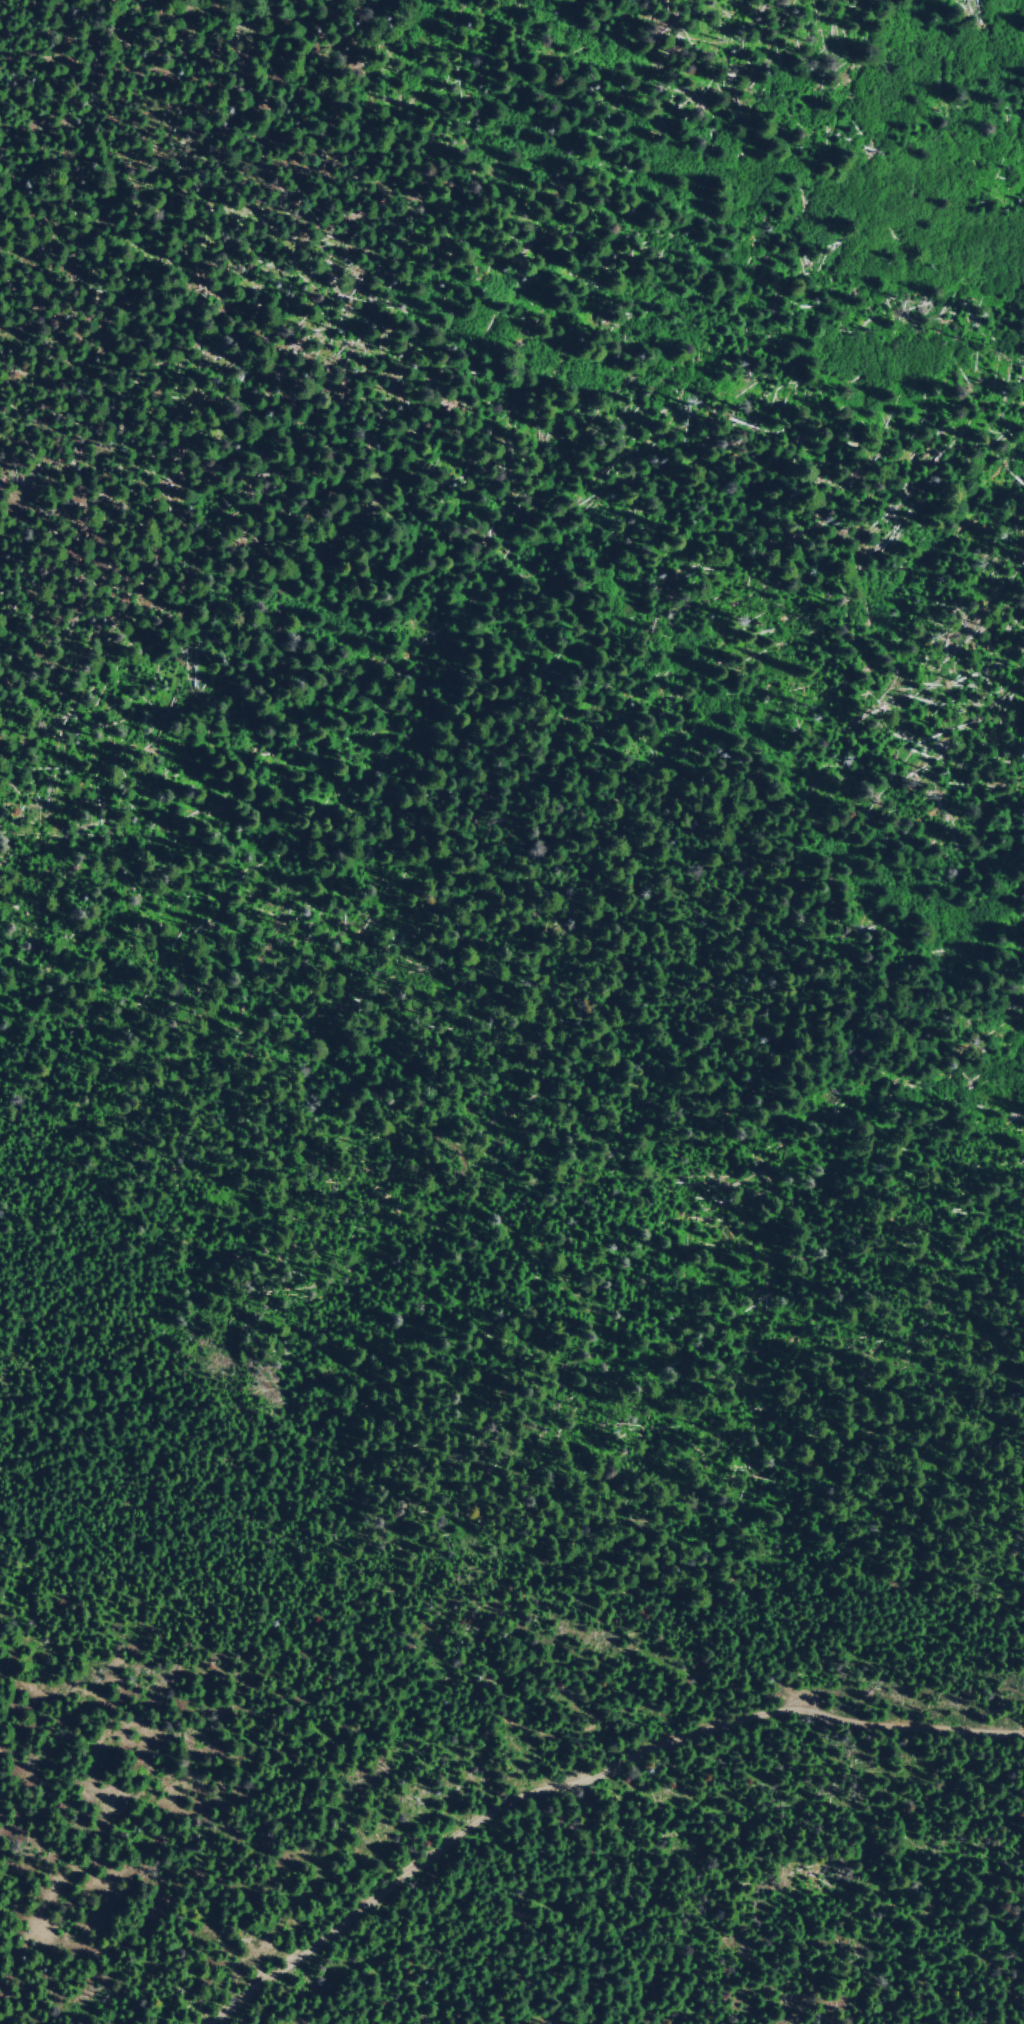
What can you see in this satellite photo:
road: (239, 851)
road: (511, 1722)
road: (578, 1778)
road: (1003, 1998)

